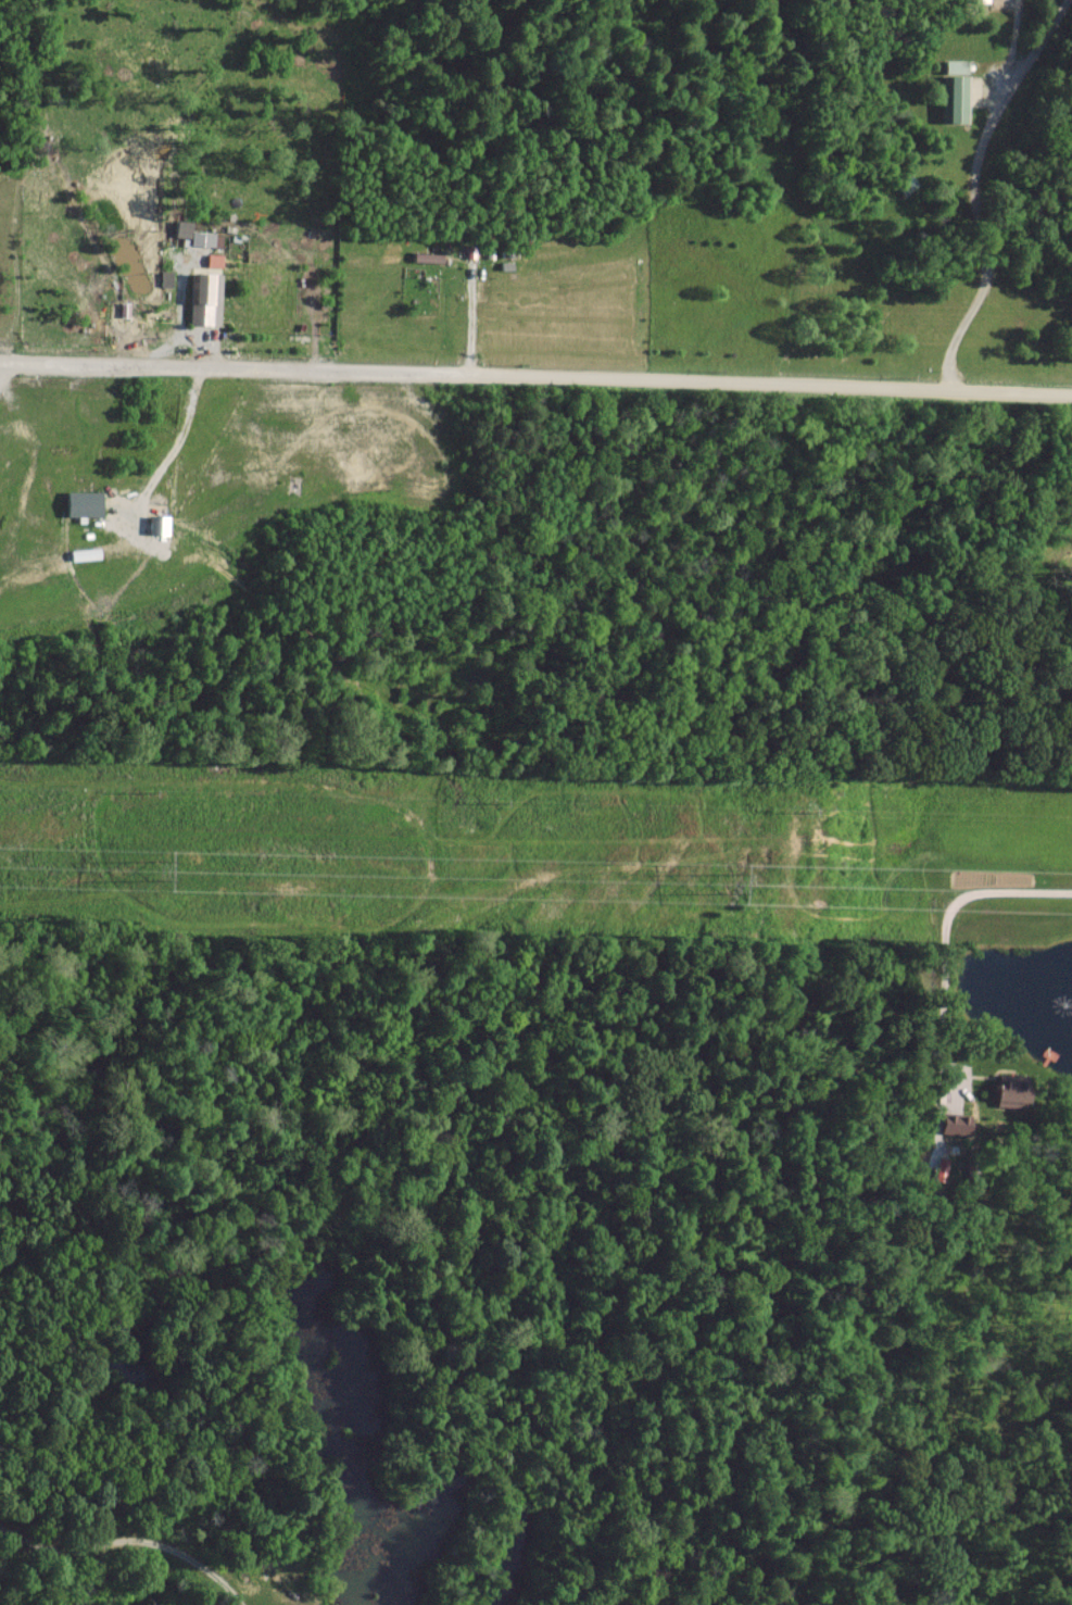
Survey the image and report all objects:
building: (981, 0)
building: (958, 65)
building: (961, 98)
road: (975, 188)
building: (185, 228)
building: (216, 260)
building: (167, 277)
building: (207, 300)
road: (3, 371)
road: (535, 374)
building: (86, 503)
building: (160, 525)
power tower: (157, 866)
power tower: (730, 880)
road: (1001, 890)
building: (1013, 1091)
building: (958, 1123)
road: (130, 1539)

